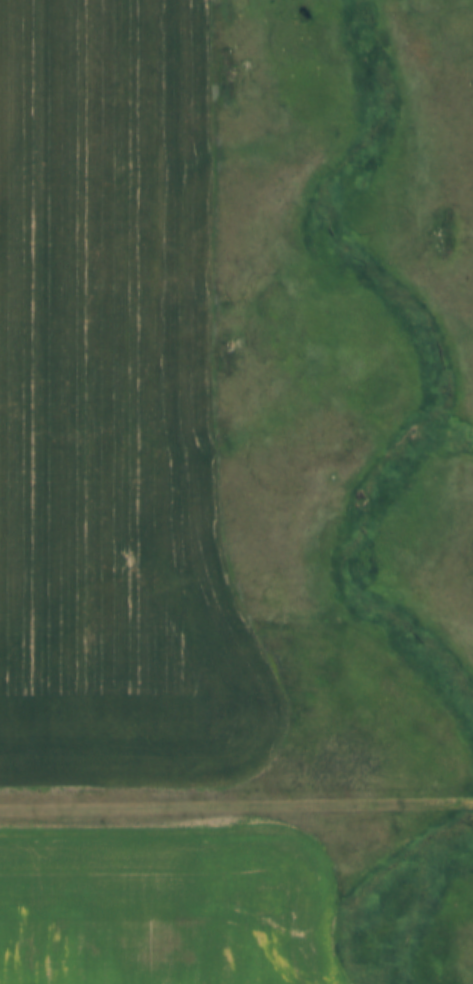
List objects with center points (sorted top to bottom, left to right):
road: (236, 817)

